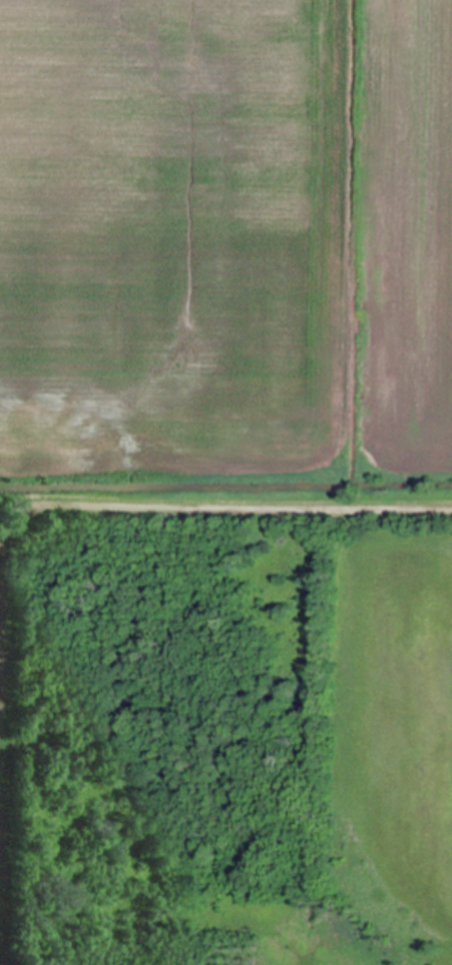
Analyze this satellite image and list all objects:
road: (226, 516)

